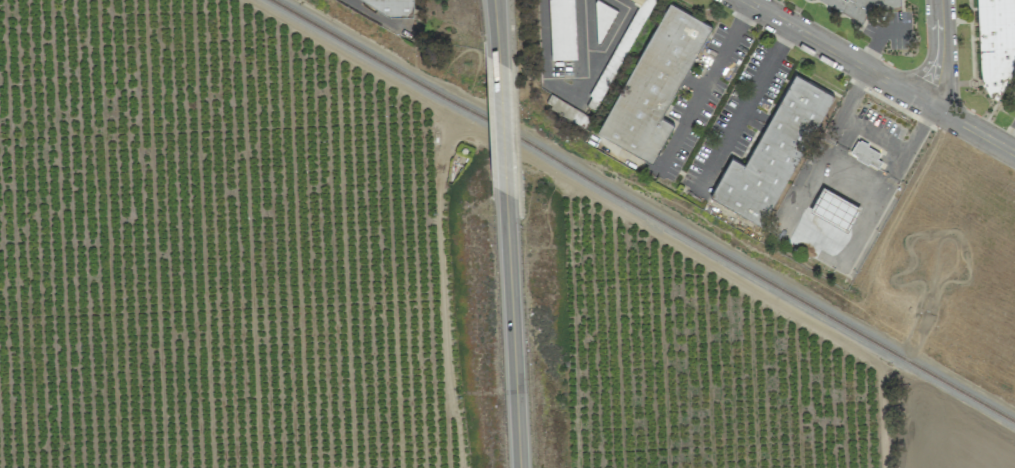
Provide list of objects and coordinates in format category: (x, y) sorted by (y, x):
road: (745, 0)
building: (378, 2)
building: (862, 5)
building: (643, 7)
building: (561, 29)
road: (495, 31)
road: (581, 46)
building: (996, 47)
road: (941, 56)
road: (879, 75)
building: (650, 86)
road: (704, 88)
road: (571, 96)
road: (743, 109)
road: (501, 128)
road: (873, 134)
road: (1012, 143)
building: (772, 152)
building: (865, 153)
building: (834, 208)
railway: (643, 211)
crop: (372, 281)
road: (511, 331)

